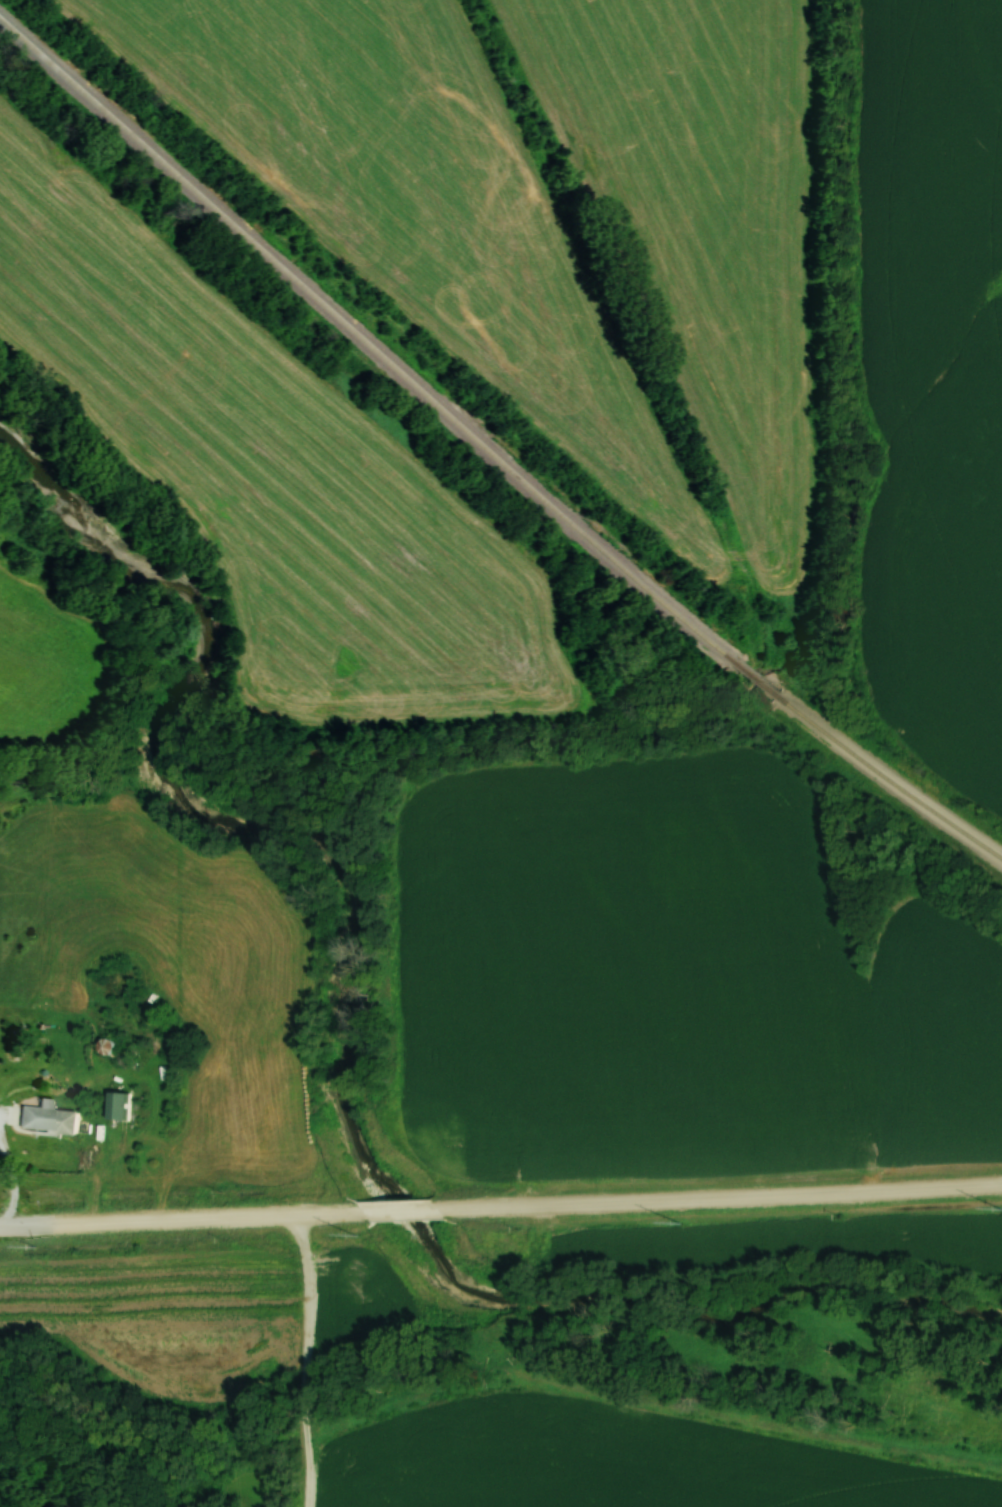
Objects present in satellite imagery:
railway: (364, 338)
railway: (761, 679)
railway: (893, 782)
building: (53, 1119)
road: (14, 1170)
road: (500, 1208)
road: (309, 1361)

